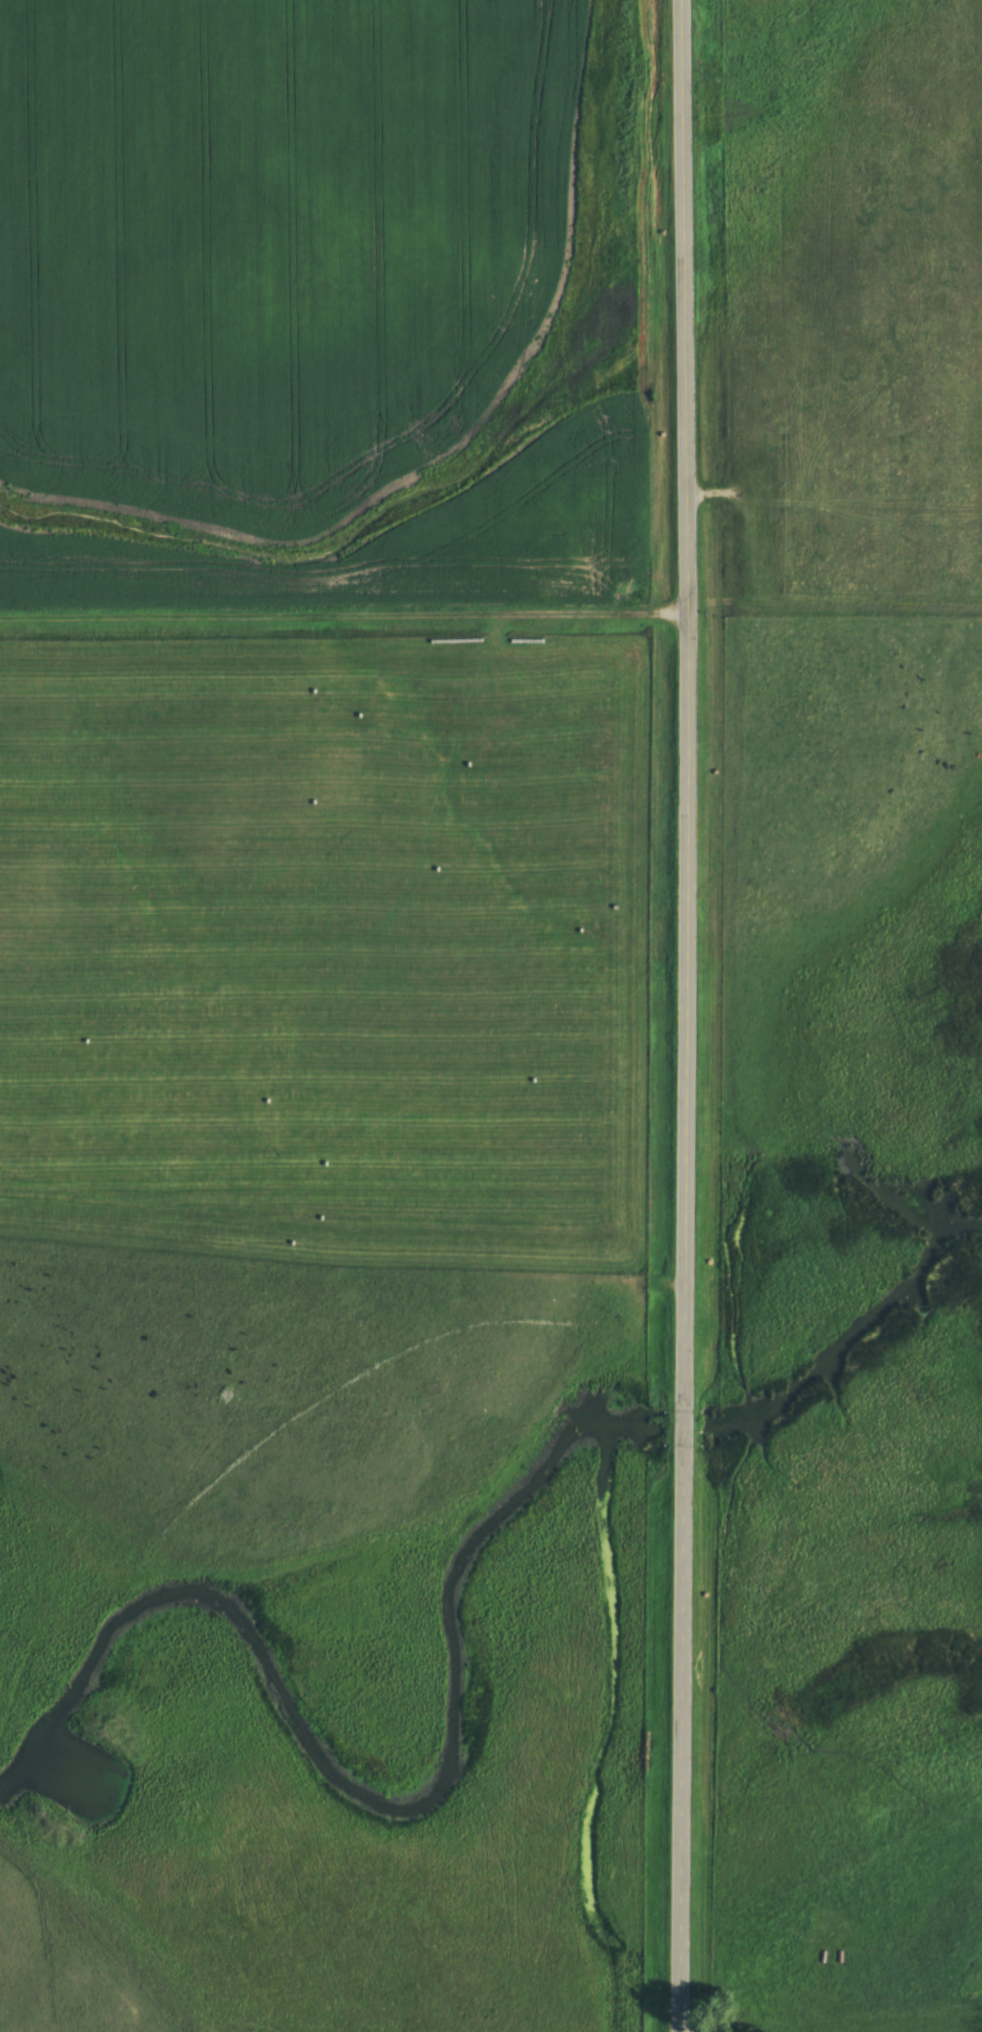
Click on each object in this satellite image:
road: (347, 613)
road: (693, 1015)

